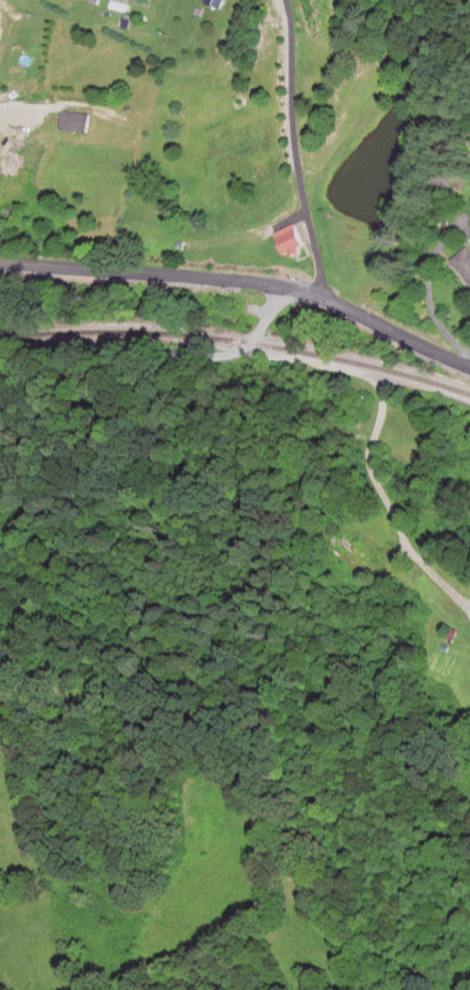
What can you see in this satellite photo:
building: (212, 4)
building: (73, 123)
road: (296, 150)
building: (286, 242)
building: (462, 266)
road: (242, 278)
railway: (238, 342)
road: (160, 354)
road: (383, 386)
road: (435, 569)

